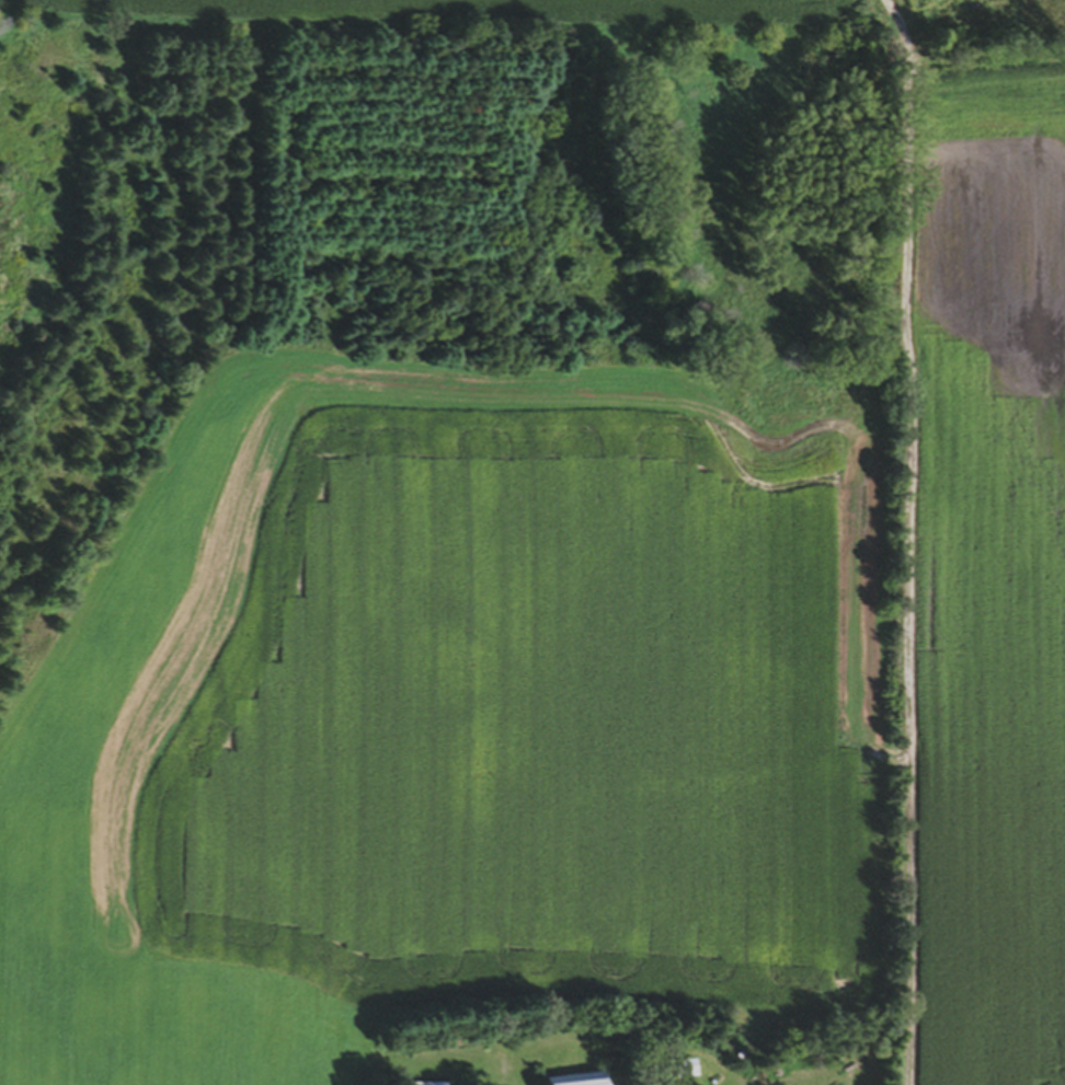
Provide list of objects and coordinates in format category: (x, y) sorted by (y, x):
building: (683, 1072)
building: (568, 1081)

